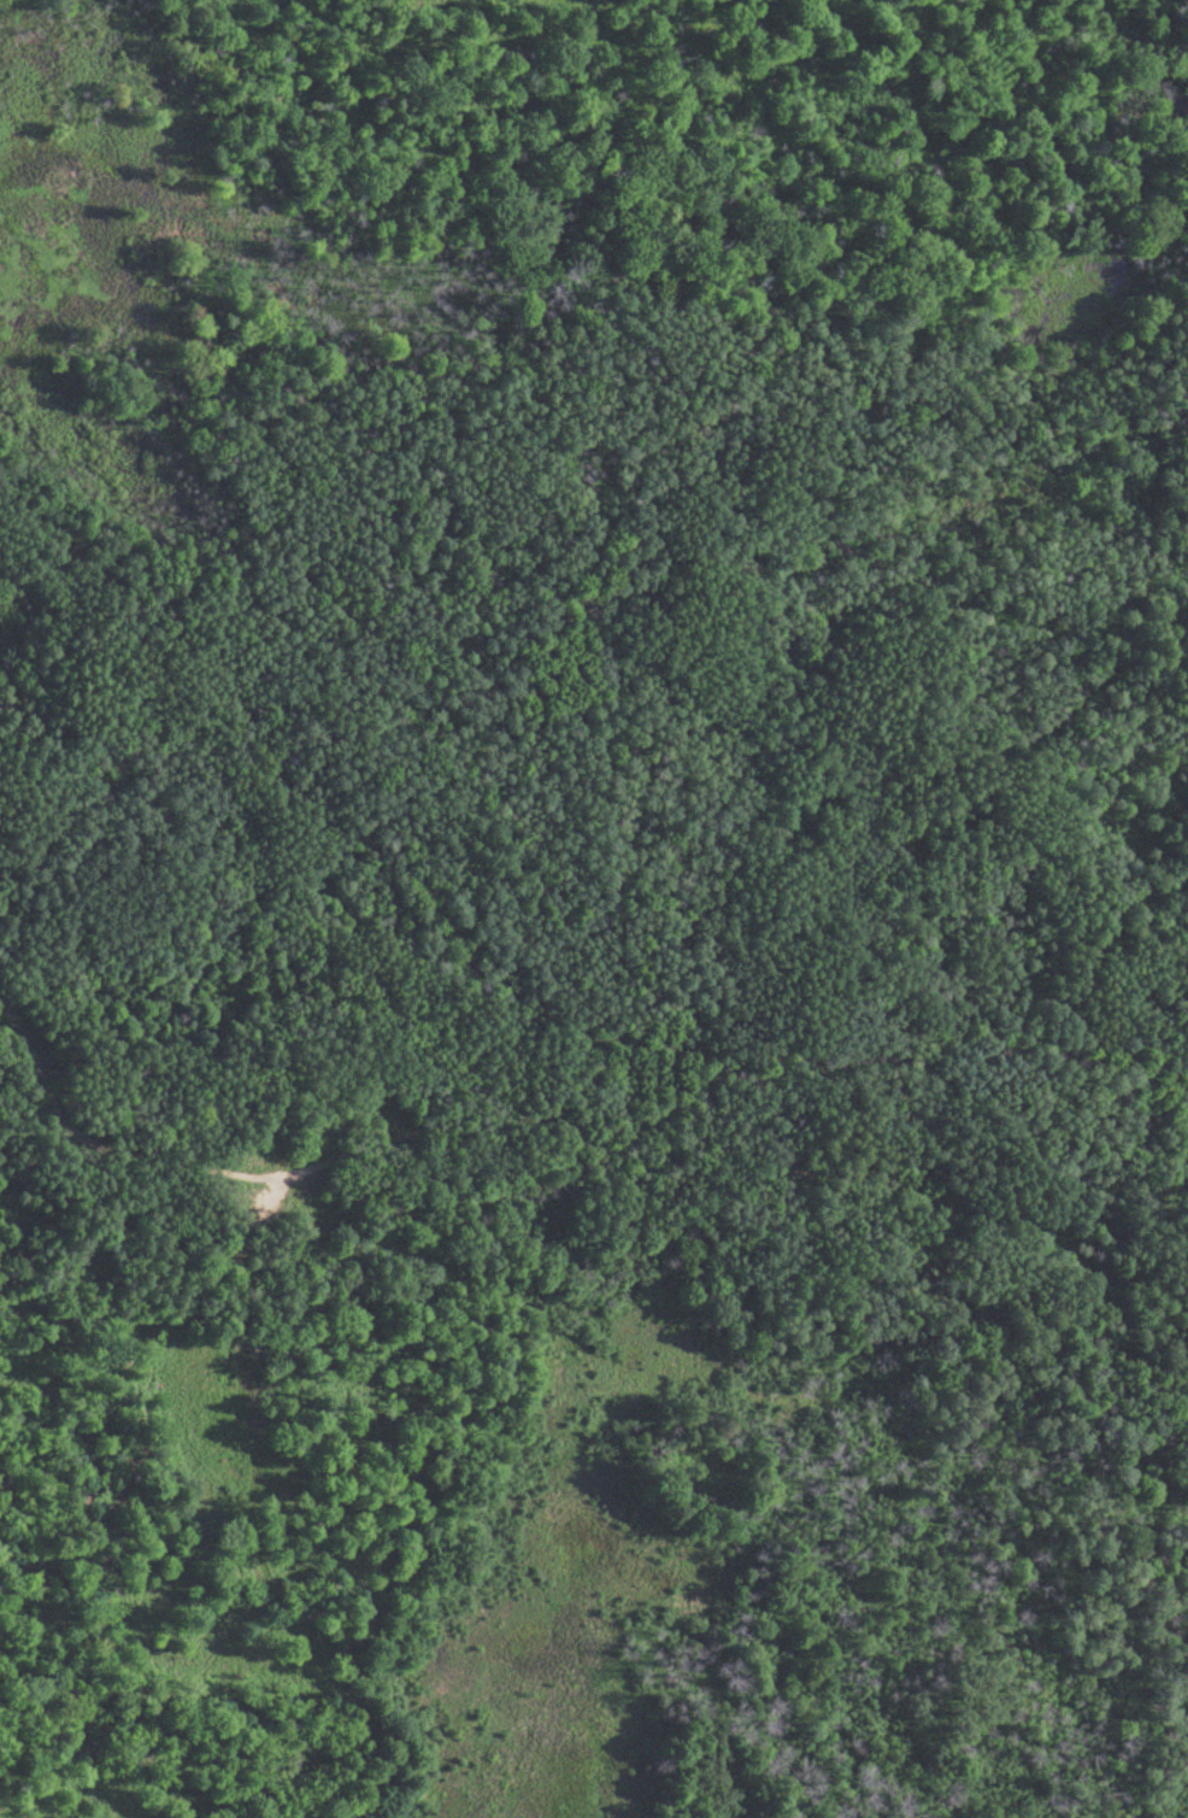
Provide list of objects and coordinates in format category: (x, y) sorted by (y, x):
road: (594, 1355)

